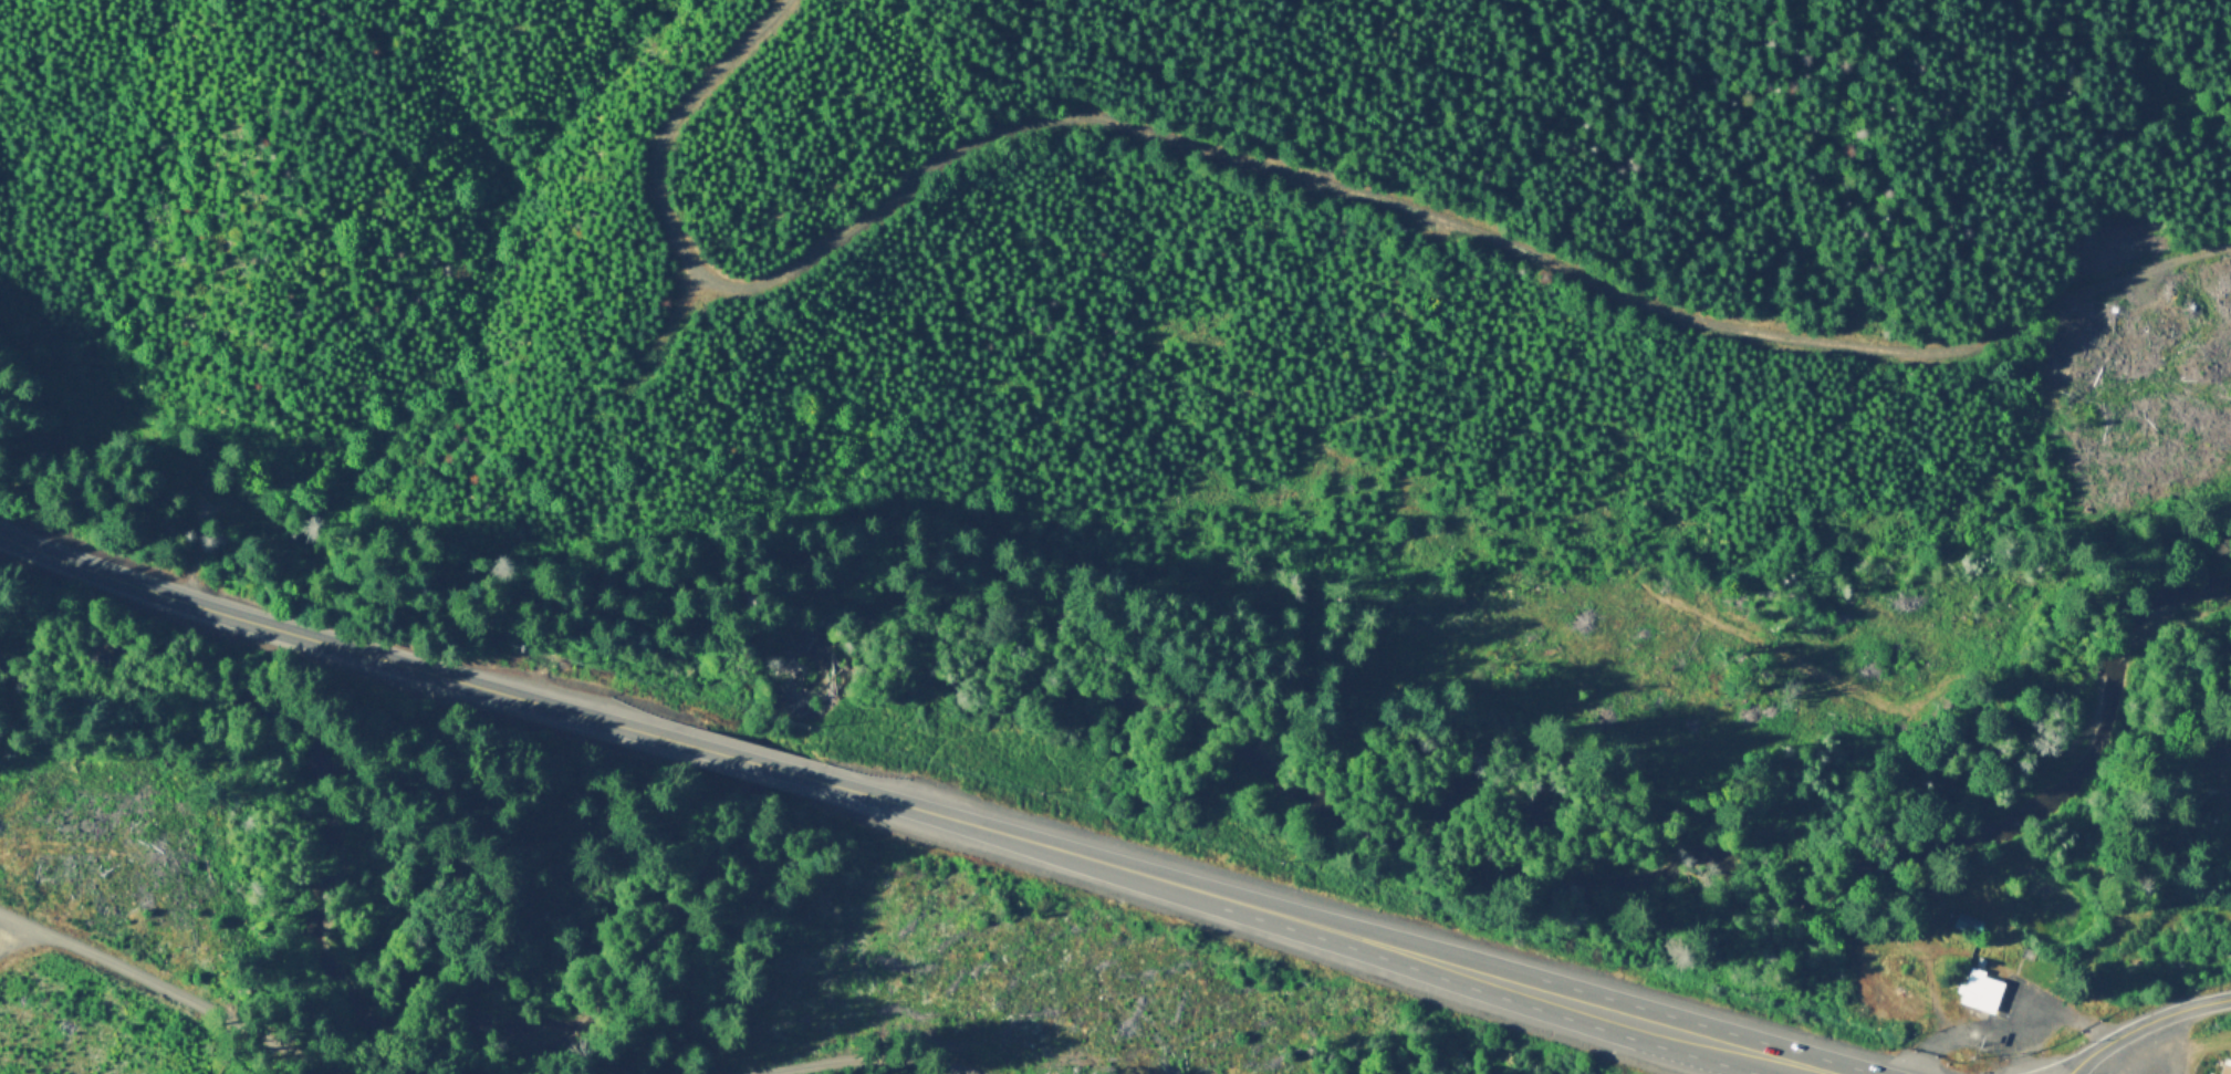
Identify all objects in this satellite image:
road: (1292, 173)
road: (675, 313)
road: (341, 644)
road: (753, 762)
road: (1022, 838)
road: (12, 930)
road: (1379, 941)
road: (181, 989)
building: (1981, 990)
road: (1629, 1014)
parking lot: (2022, 1019)
road: (2151, 1019)
road: (2001, 1020)
road: (861, 1056)
road: (1740, 1057)
road: (1780, 1057)
road: (2074, 1065)
road: (2056, 1066)
building: (2227, 1068)

